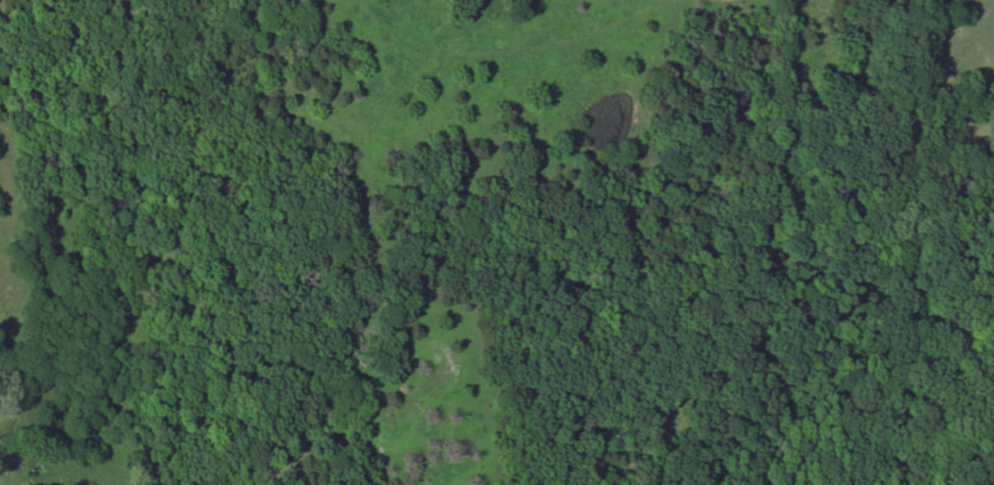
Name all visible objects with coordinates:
road: (905, 242)

